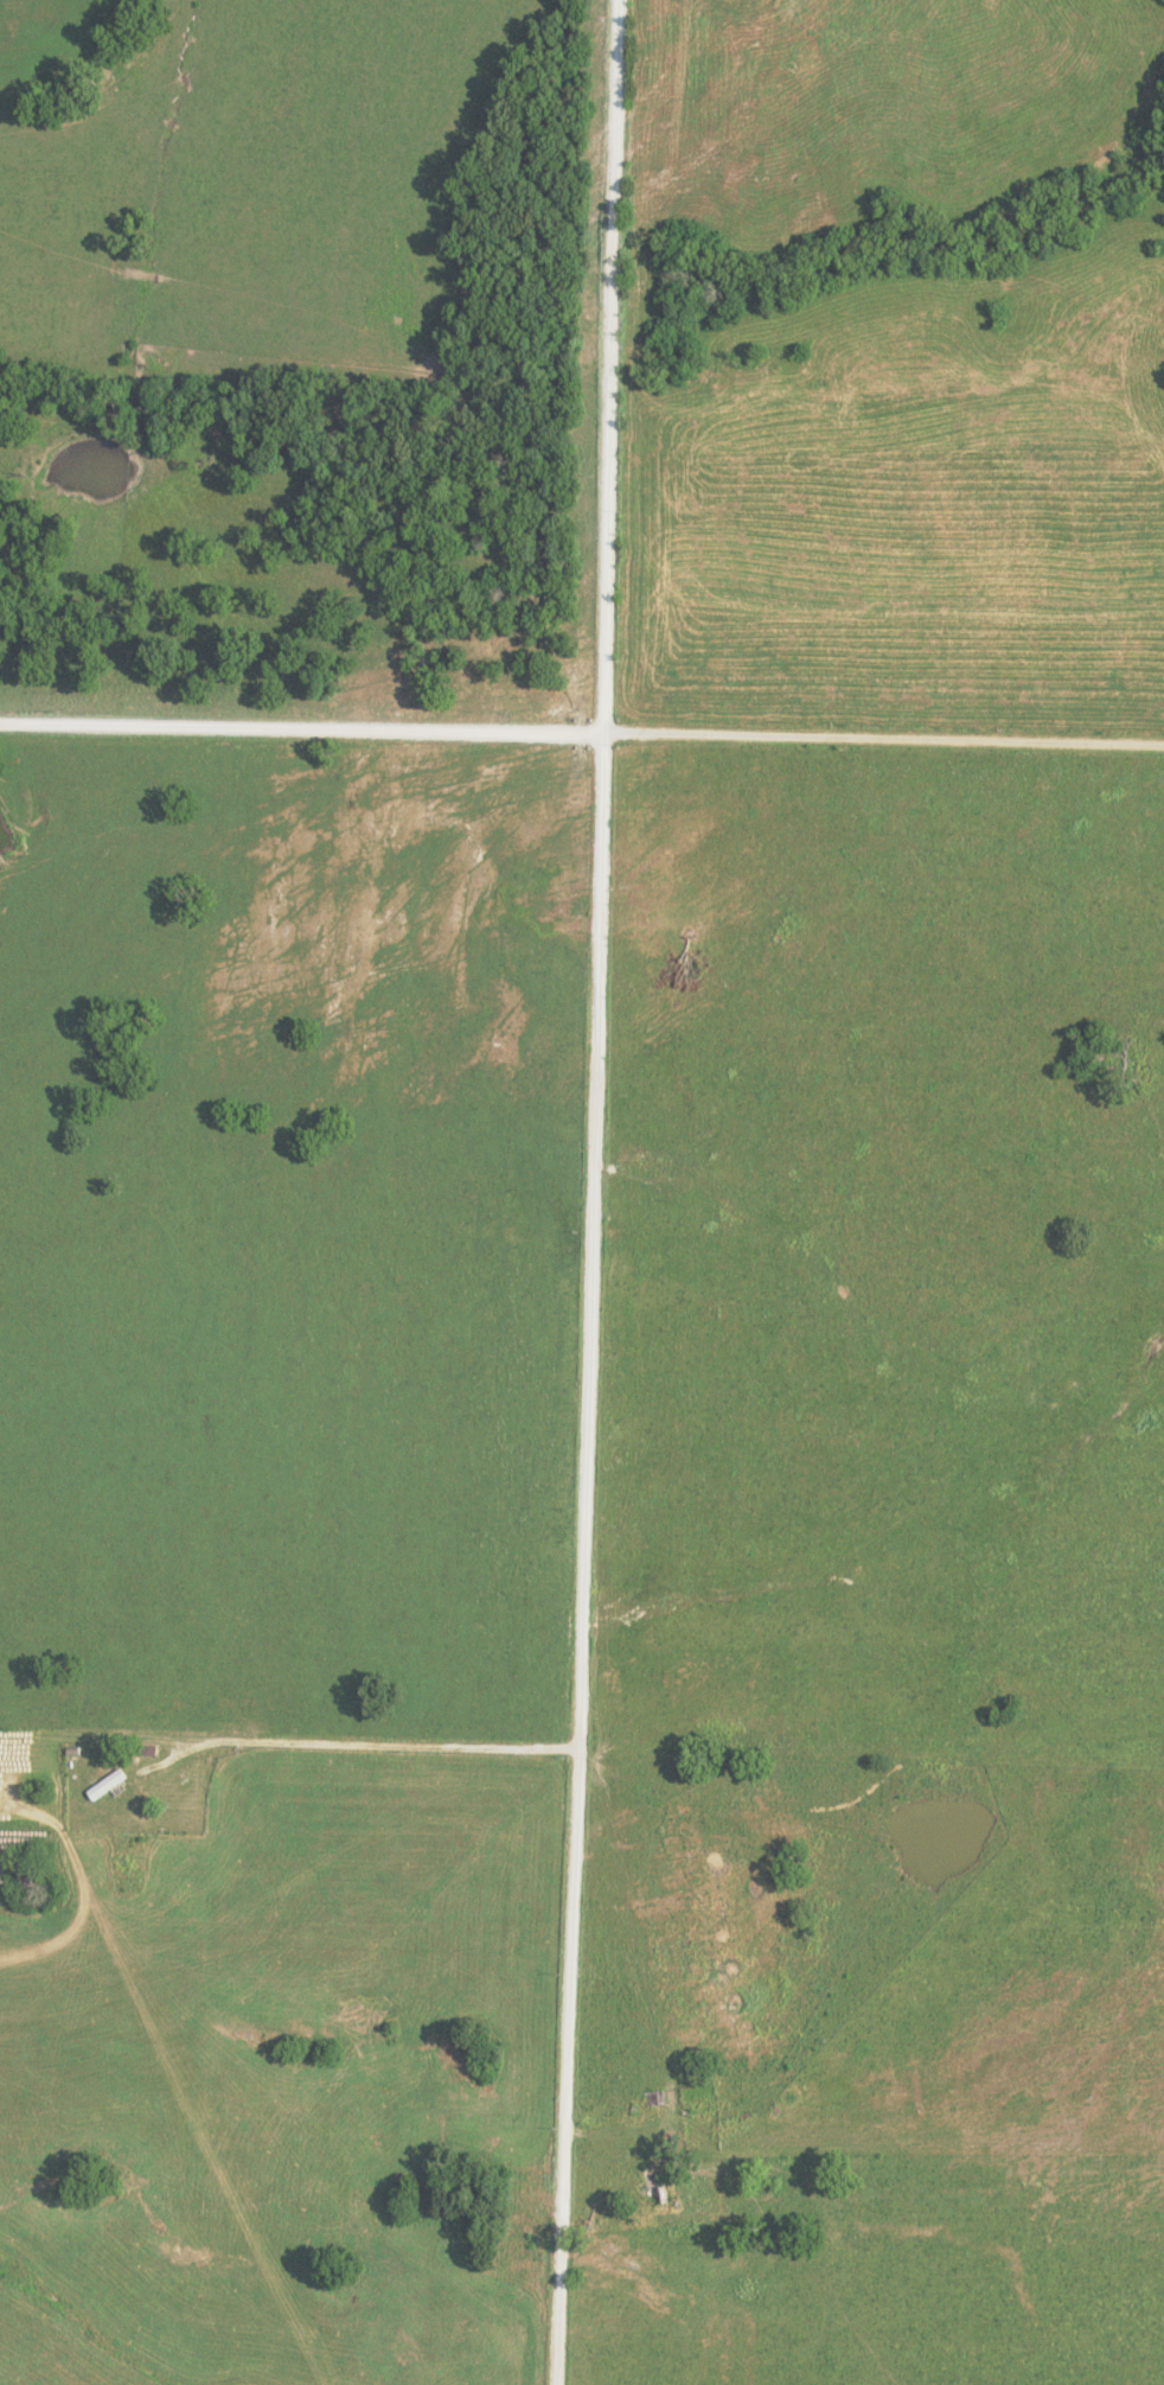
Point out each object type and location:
road: (582, 729)
road: (589, 1192)
road: (357, 1739)
building: (116, 1780)

